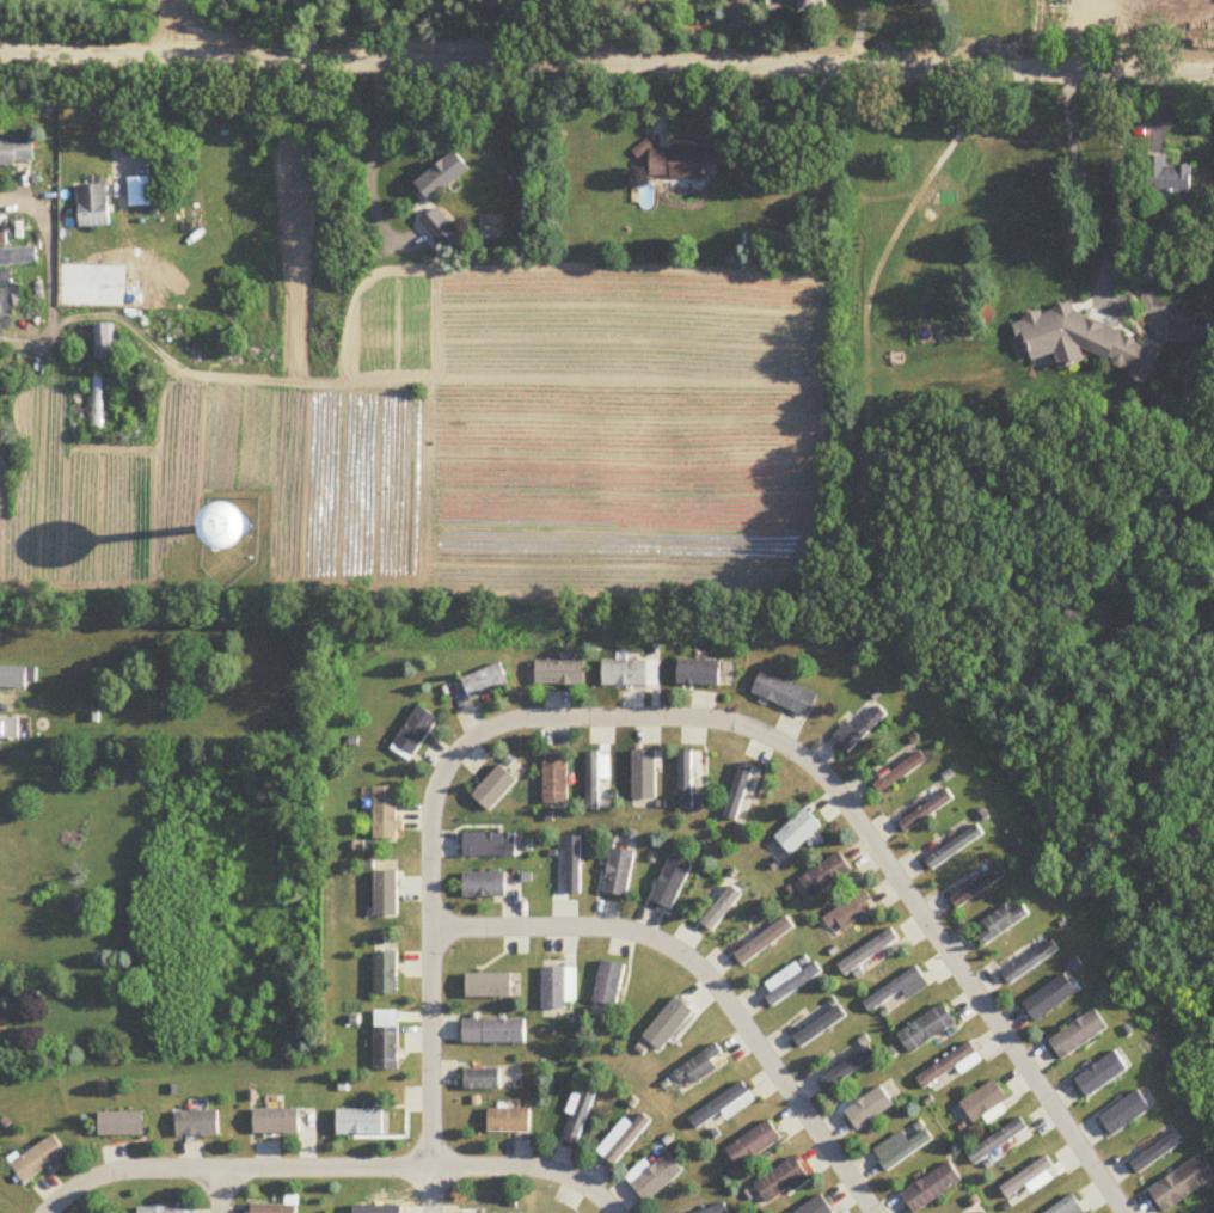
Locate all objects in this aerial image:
building: (815, 7)
road: (607, 65)
road: (117, 122)
building: (17, 152)
road: (369, 161)
building: (682, 165)
road: (1080, 169)
building: (444, 177)
building: (1167, 178)
building: (94, 206)
building: (441, 229)
building: (18, 259)
building: (5, 277)
road: (50, 278)
building: (161, 312)
building: (1183, 330)
building: (105, 342)
building: (1086, 342)
water tower: (240, 528)
building: (559, 673)
building: (627, 673)
building: (698, 673)
building: (17, 678)
building: (484, 682)
building: (784, 694)
road: (675, 719)
building: (8, 730)
building: (859, 730)
building: (413, 734)
building: (901, 772)
building: (688, 777)
building: (554, 779)
building: (642, 780)
building: (591, 782)
building: (497, 785)
building: (926, 811)
building: (385, 814)
building: (797, 832)
building: (955, 847)
building: (617, 872)
building: (824, 875)
building: (484, 884)
building: (979, 887)
building: (386, 890)
building: (846, 914)
building: (1003, 923)
building: (867, 951)
building: (1031, 962)
building: (386, 973)
road: (709, 975)
building: (787, 982)
building: (608, 984)
building: (558, 987)
building: (897, 988)
building: (670, 1022)
building: (926, 1028)
building: (495, 1031)
building: (1079, 1035)
building: (386, 1040)
building: (844, 1064)
building: (945, 1065)
building: (699, 1067)
building: (1103, 1074)
building: (483, 1080)
building: (983, 1102)
building: (723, 1108)
building: (1129, 1111)
building: (578, 1115)
building: (509, 1121)
building: (277, 1122)
building: (361, 1122)
building: (198, 1123)
building: (121, 1125)
building: (623, 1139)
building: (997, 1141)
building: (753, 1145)
building: (900, 1148)
building: (1155, 1150)
building: (39, 1159)
road: (332, 1168)
building: (656, 1180)
building: (780, 1181)
building: (1184, 1184)
building: (931, 1188)
road: (221, 1190)
building: (816, 1207)
building: (1067, 1207)
building: (274, 1209)
building: (163, 1211)
building: (1212, 1211)

